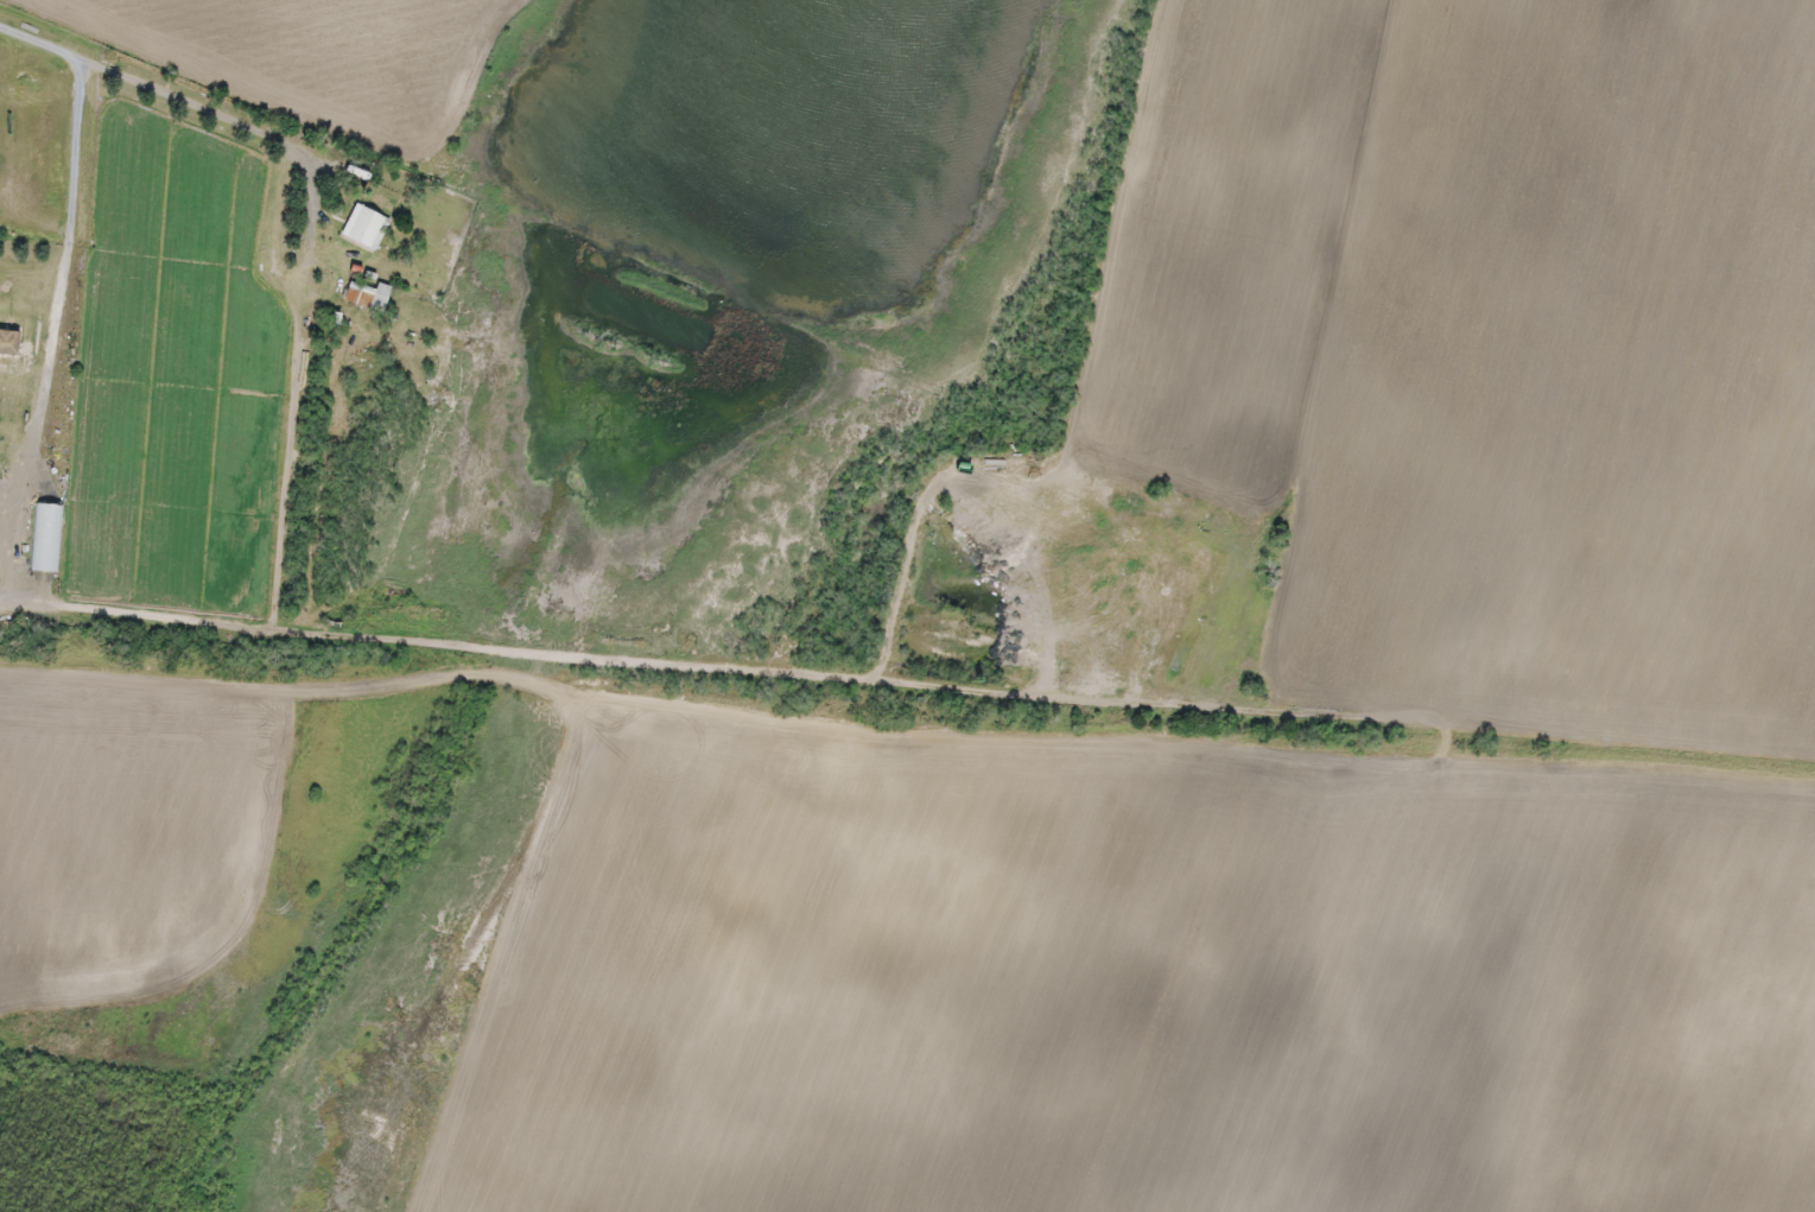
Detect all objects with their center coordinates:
road: (227, 87)
river: (688, 142)
river: (751, 170)
building: (389, 182)
building: (364, 226)
river: (596, 278)
building: (358, 293)
building: (939, 884)
building: (977, 997)
building: (1814, 997)
building: (1683, 1086)

